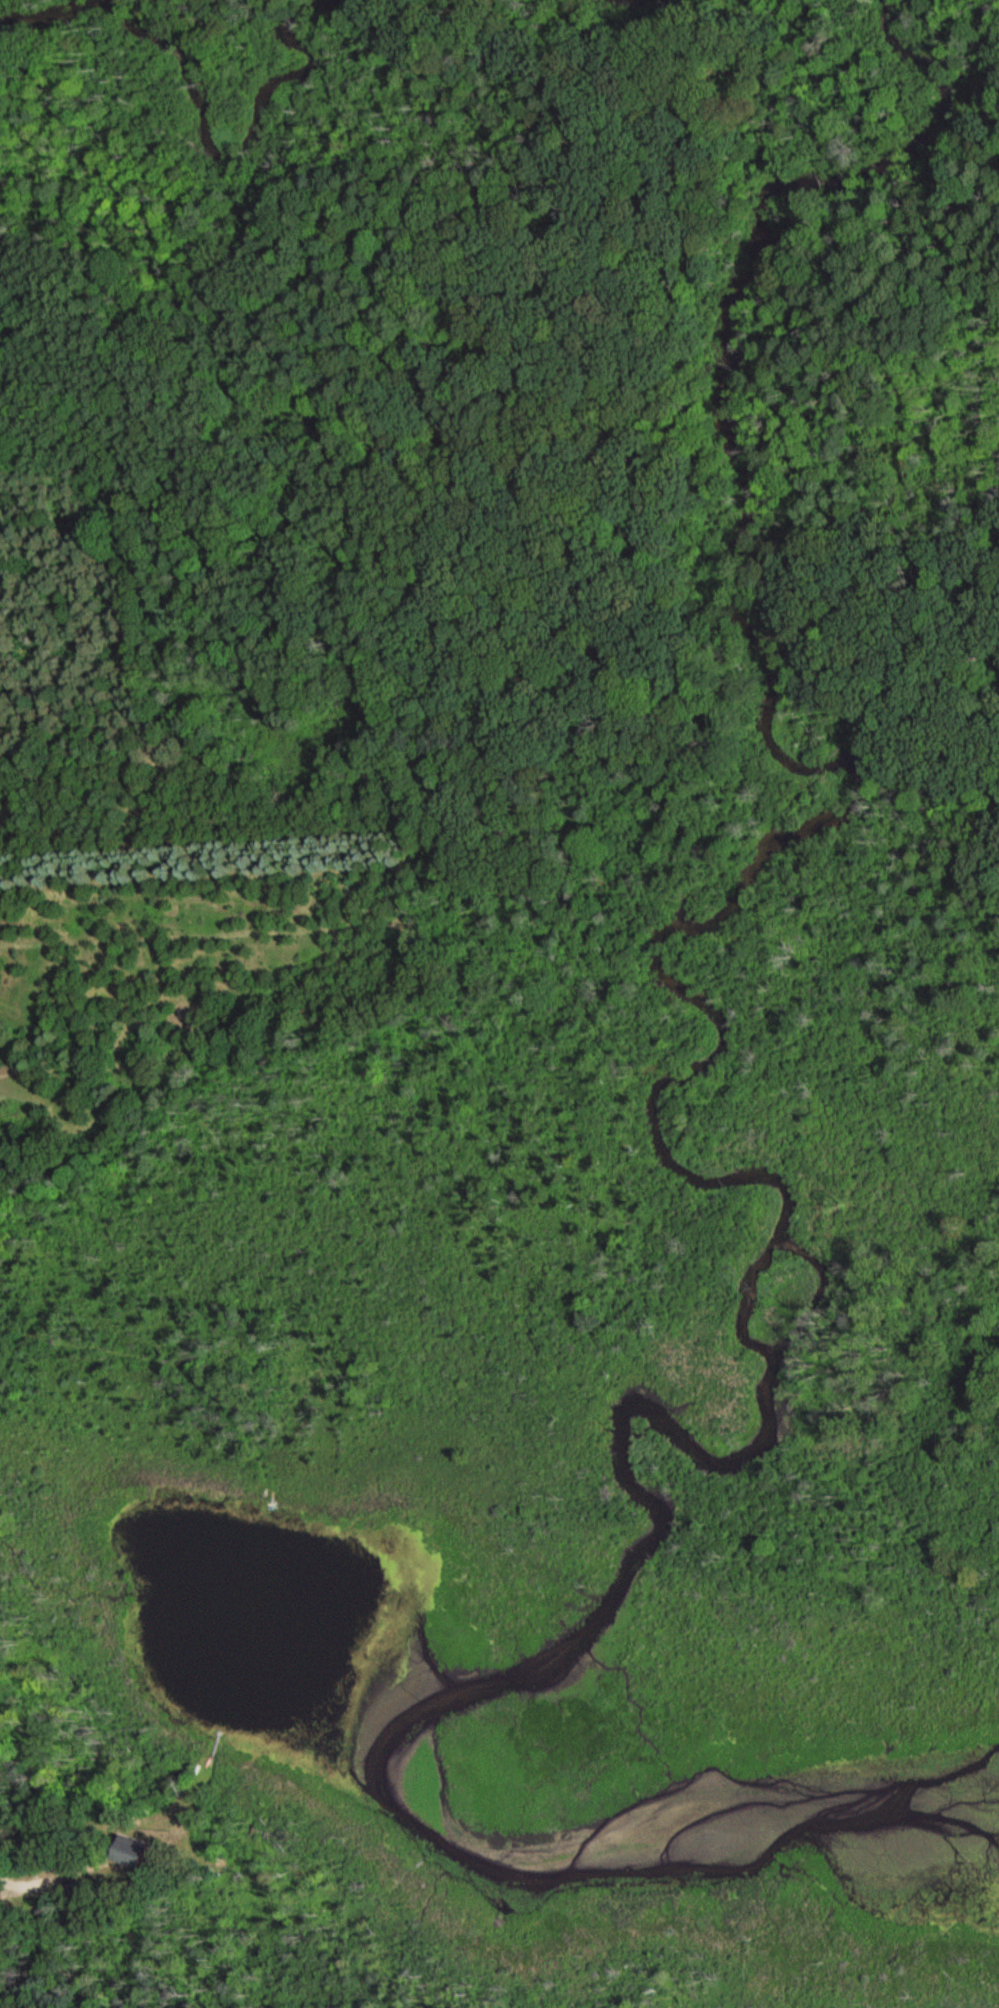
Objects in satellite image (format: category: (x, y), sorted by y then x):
road: (73, 1829)
building: (138, 1847)

